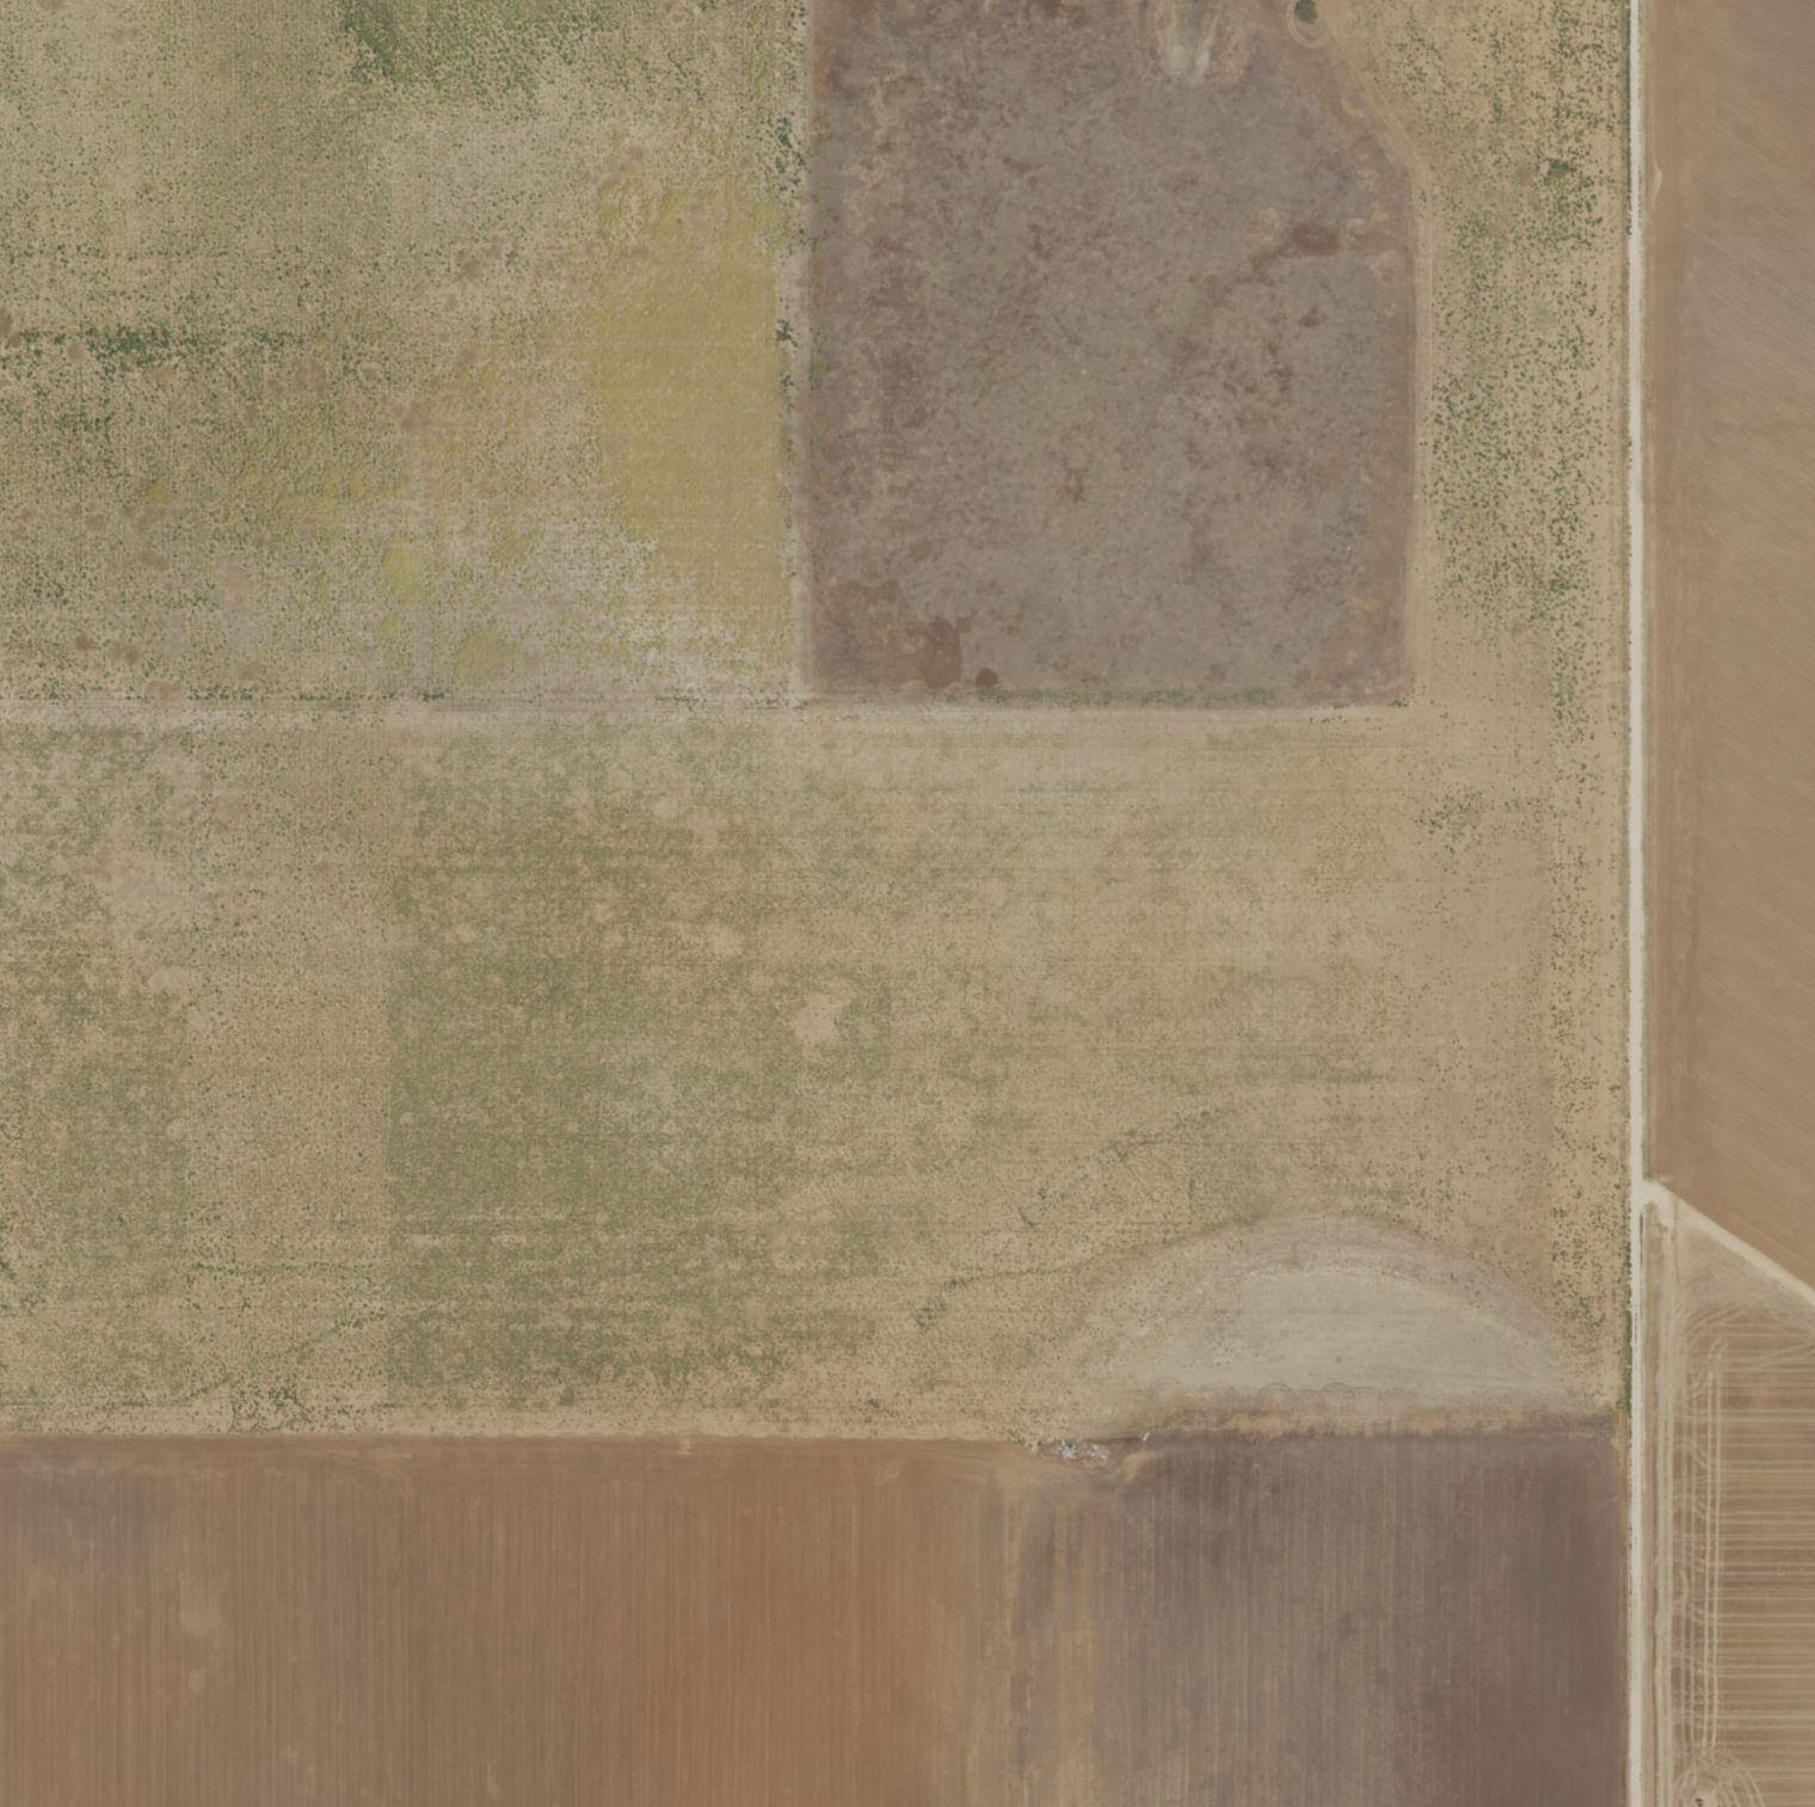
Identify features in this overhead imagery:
road: (1611, 903)

